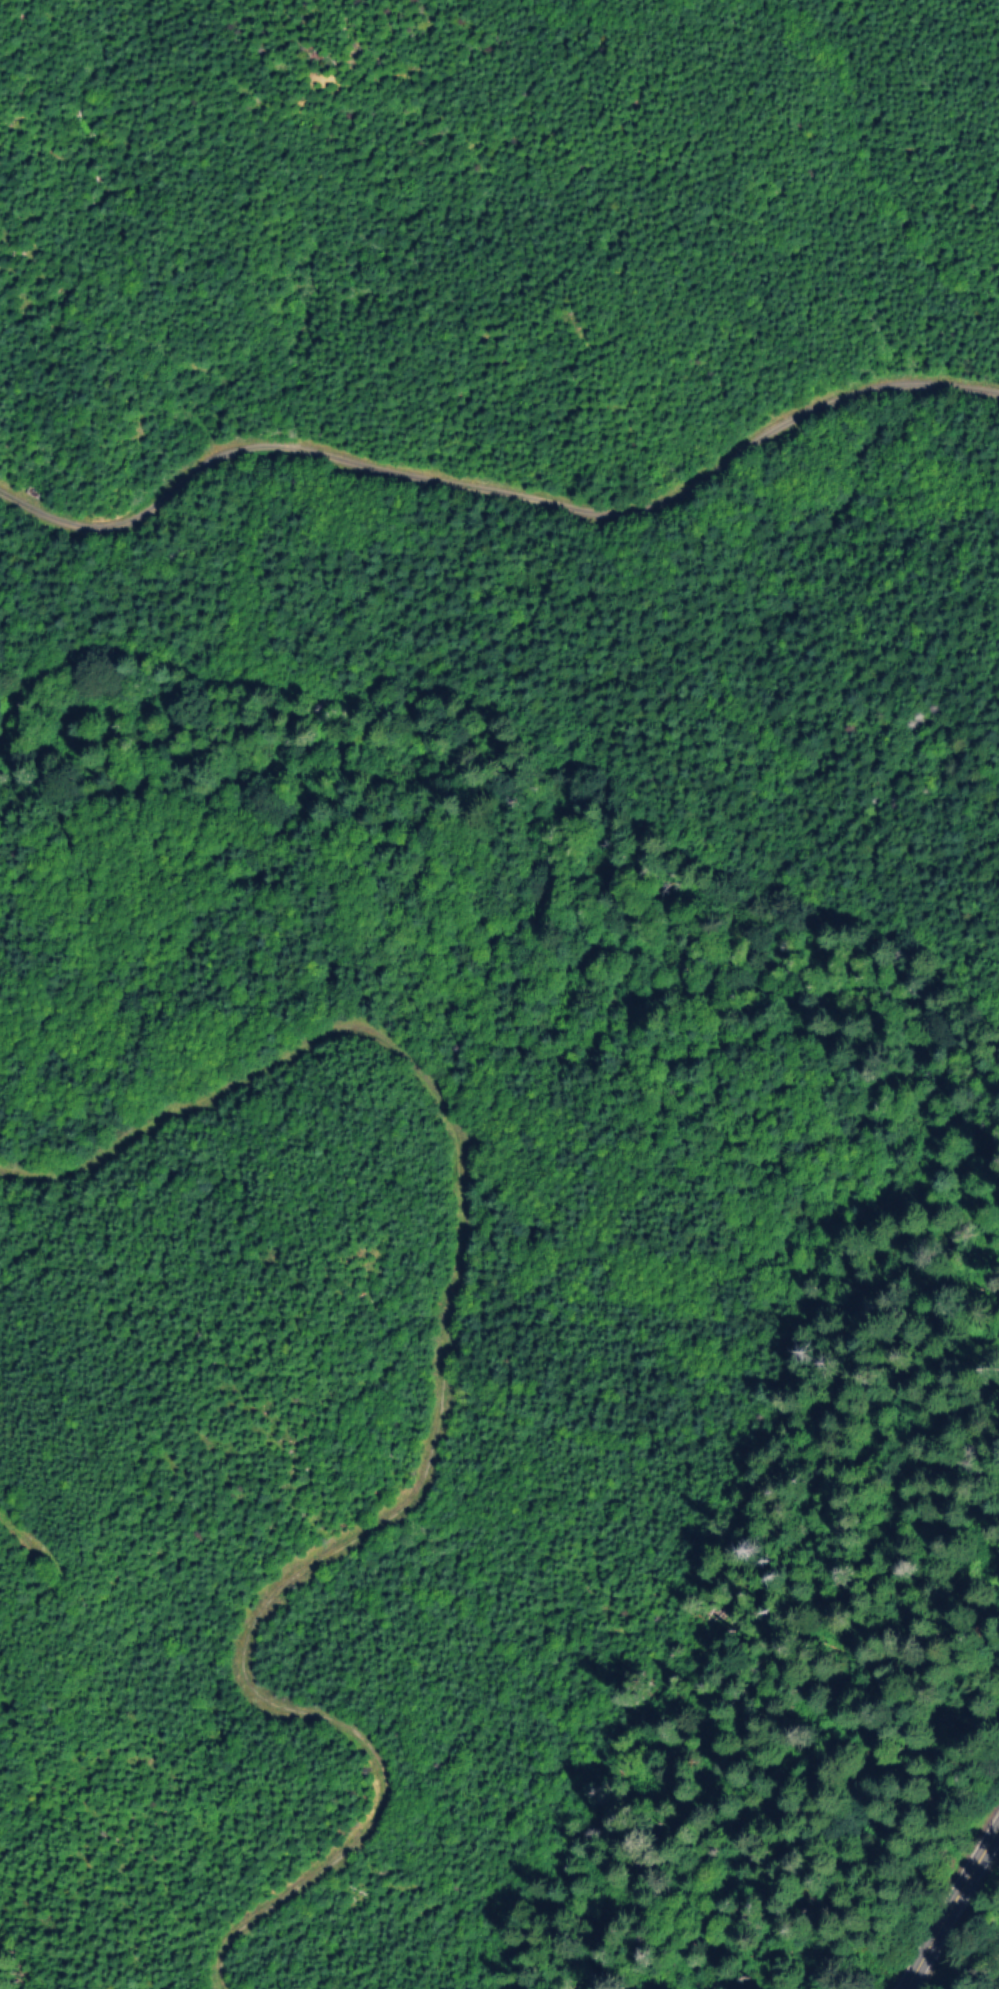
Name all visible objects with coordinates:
road: (497, 483)
road: (953, 1915)

